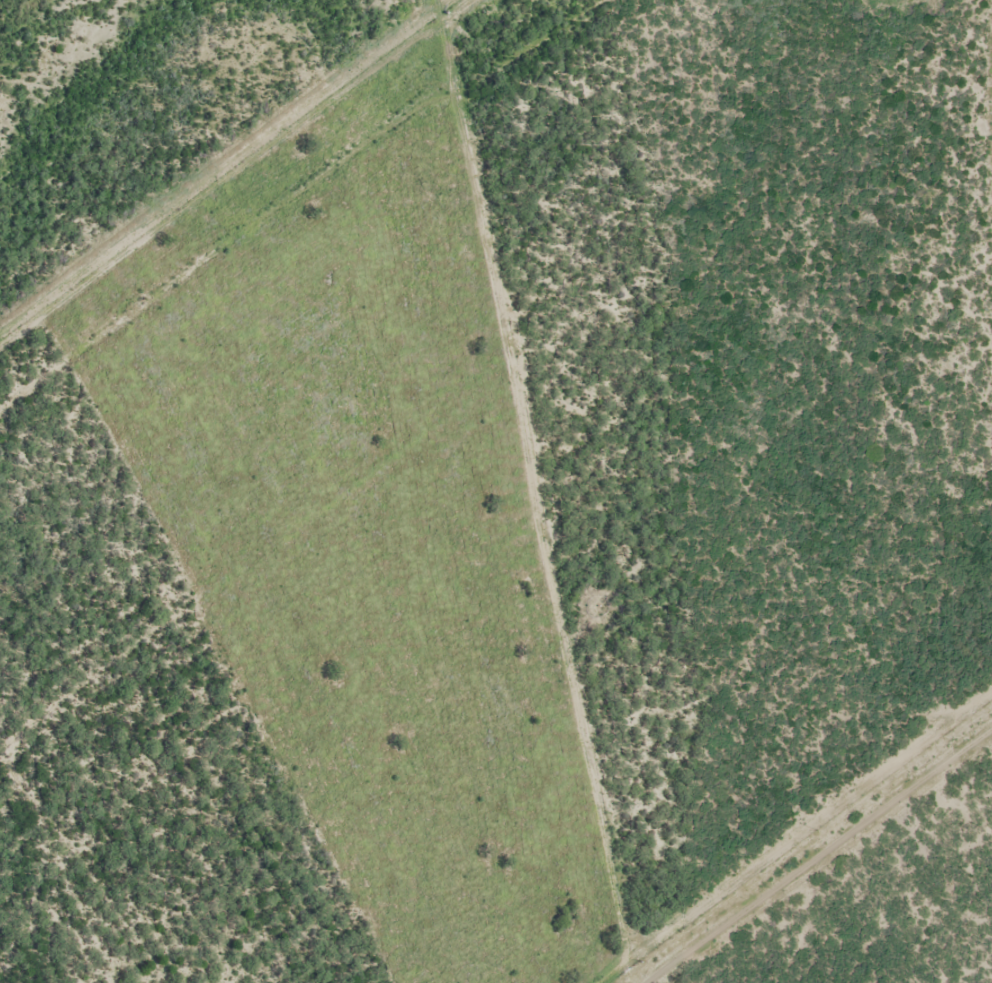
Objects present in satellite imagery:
road: (818, 853)

